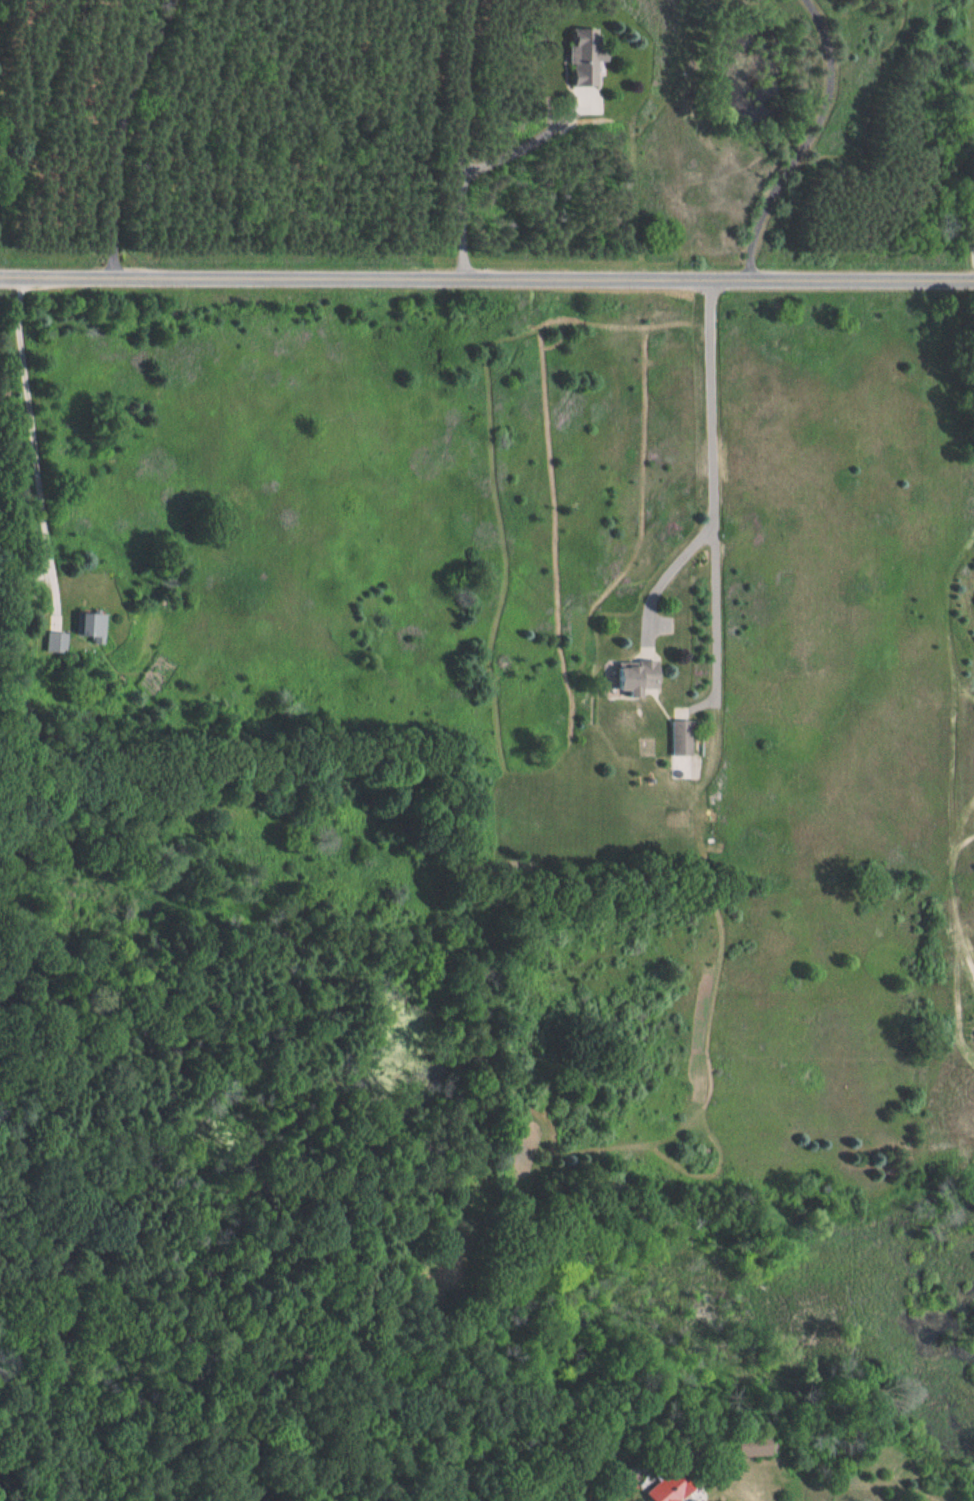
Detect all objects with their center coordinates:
building: (573, 58)
road: (805, 139)
road: (487, 274)
road: (713, 478)
building: (95, 622)
building: (61, 641)
building: (644, 675)
building: (681, 737)
building: (759, 1446)
building: (679, 1487)

